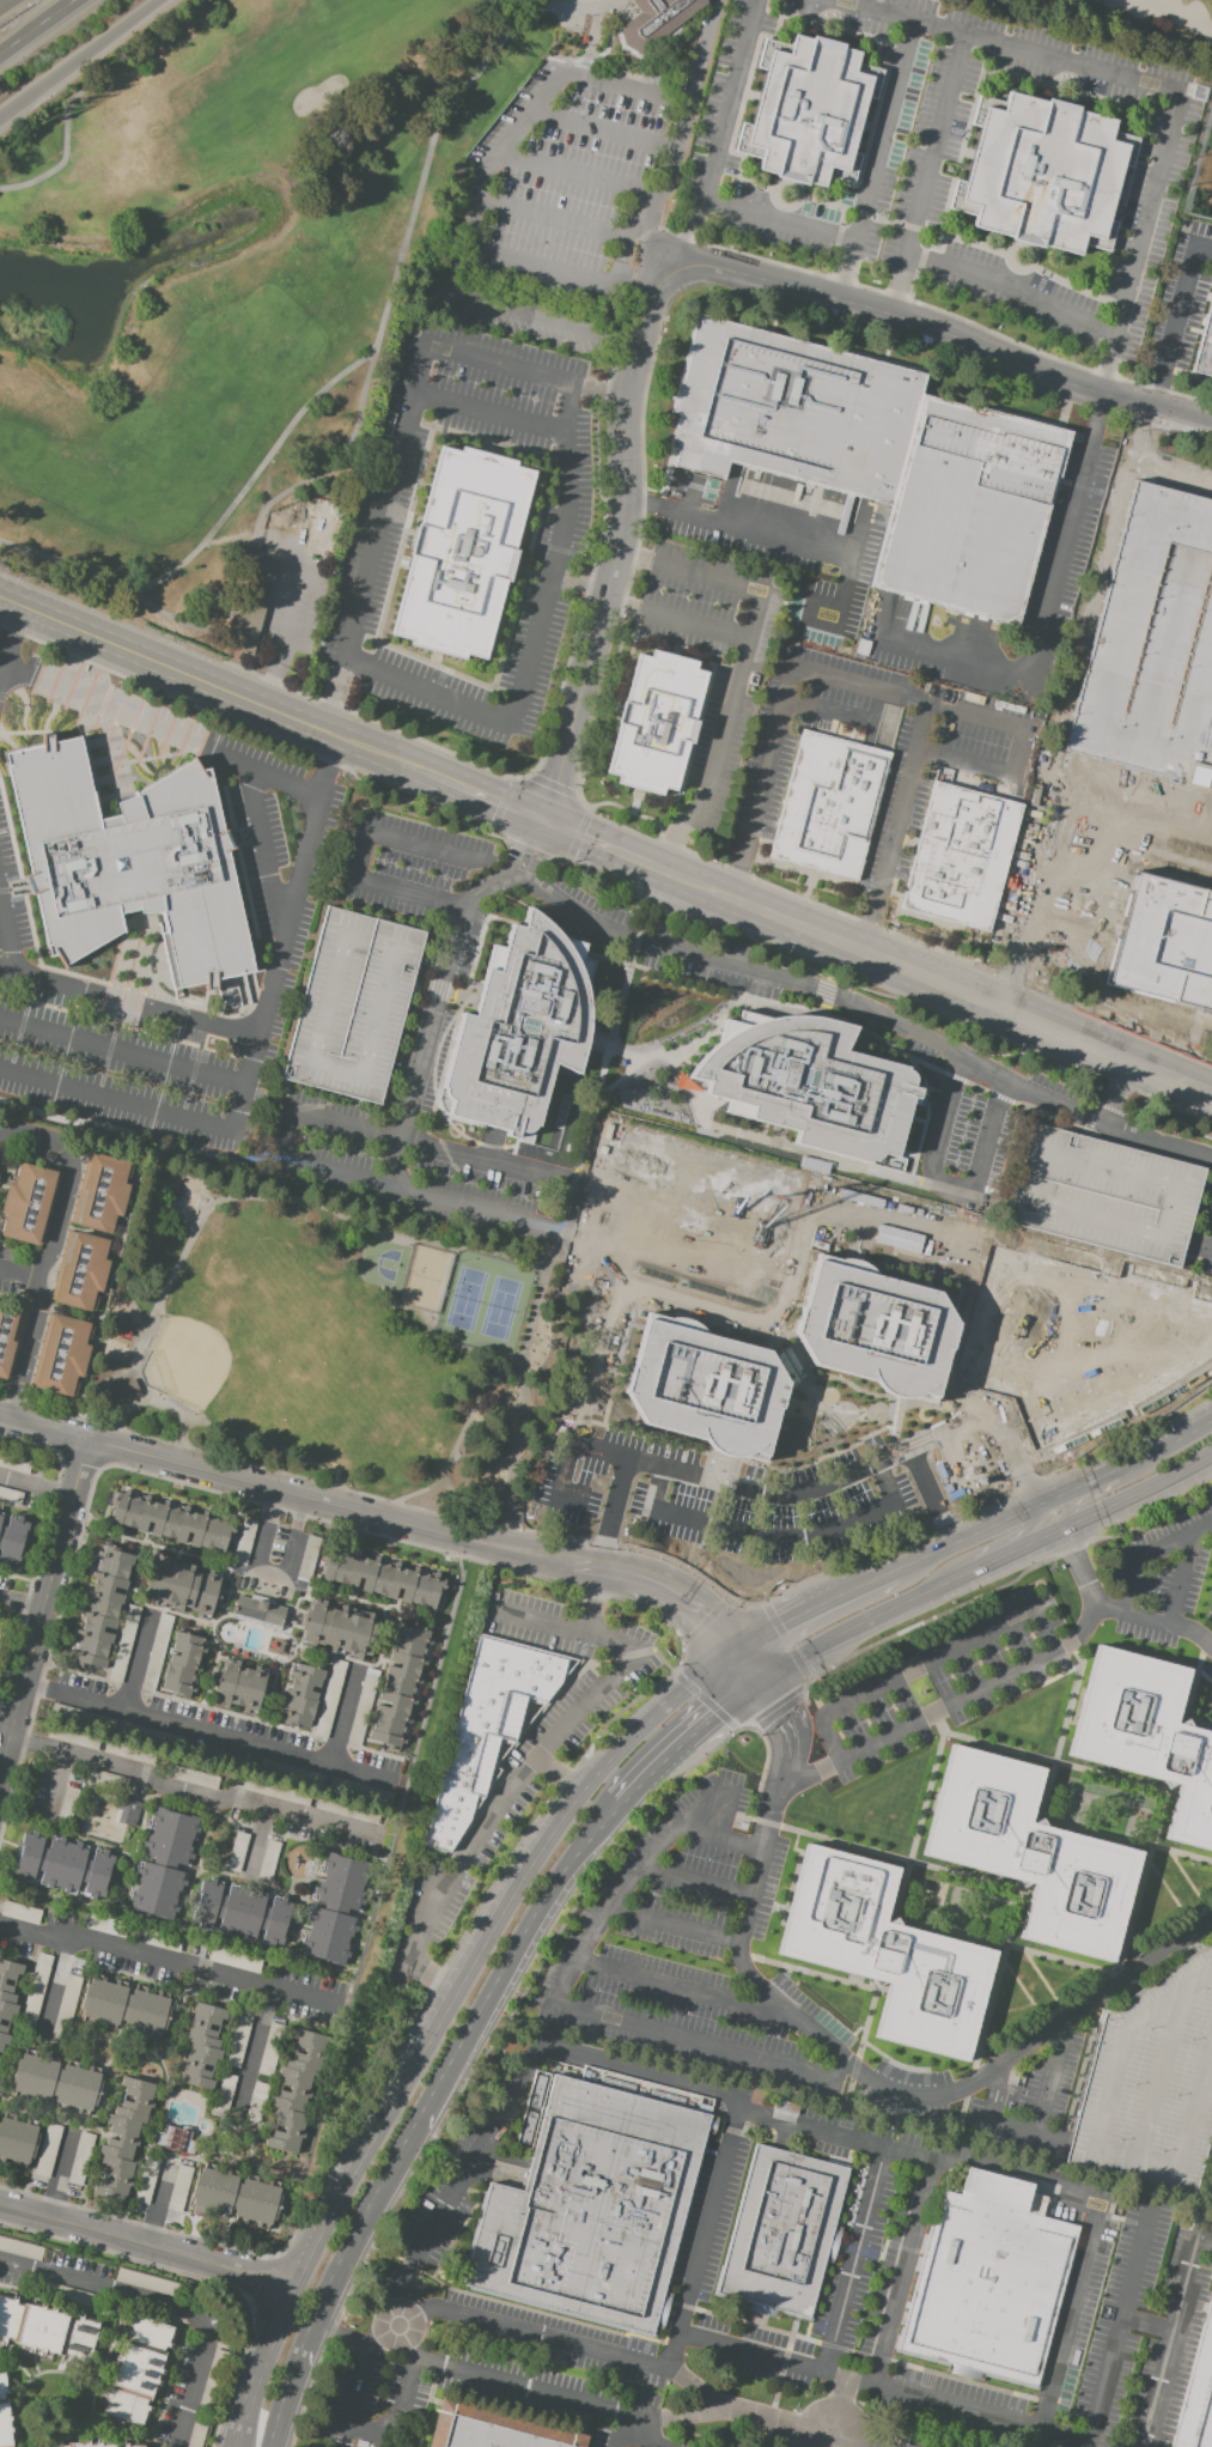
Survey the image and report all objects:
road: (4, 1)
building: (654, 20)
park: (1126, 23)
road: (36, 25)
road: (87, 53)
road: (1155, 85)
road: (84, 90)
building: (808, 110)
road: (8, 113)
road: (603, 127)
road: (720, 138)
road: (675, 141)
road: (873, 160)
road: (578, 172)
building: (1042, 174)
park: (1201, 174)
road: (927, 175)
parking lot: (567, 180)
road: (473, 198)
road: (552, 215)
road: (779, 219)
park: (291, 267)
road: (1015, 289)
road: (519, 312)
road: (1176, 318)
road: (944, 333)
road: (889, 339)
building: (1204, 345)
road: (879, 358)
road: (336, 376)
road: (598, 389)
building: (791, 411)
road: (487, 412)
building: (969, 510)
road: (780, 538)
road: (376, 539)
road: (617, 545)
building: (462, 553)
road: (554, 566)
road: (579, 582)
road: (623, 589)
building: (251, 603)
road: (1050, 609)
road: (675, 621)
road: (8, 634)
building: (1151, 643)
road: (741, 663)
road: (213, 684)
road: (867, 687)
building: (656, 722)
road: (159, 728)
road: (252, 729)
road: (421, 740)
road: (552, 784)
road: (486, 799)
road: (499, 804)
building: (826, 806)
traffic signals: (548, 824)
road: (895, 827)
road: (577, 836)
road: (1061, 836)
road: (597, 843)
road: (359, 849)
road: (263, 850)
road: (526, 850)
road: (537, 850)
building: (960, 856)
building: (129, 863)
road: (491, 884)
road: (1094, 887)
building: (1090, 888)
road: (647, 898)
road: (895, 933)
road: (6, 937)
road: (479, 939)
road: (635, 939)
road: (647, 940)
road: (838, 940)
building: (1163, 940)
road: (830, 959)
road: (830, 977)
road: (684, 978)
road: (419, 984)
road: (439, 989)
road: (823, 990)
road: (463, 995)
road: (836, 997)
road: (128, 1000)
building: (351, 1004)
parking lot: (351, 1004)
road: (791, 1004)
road: (817, 1008)
building: (518, 1028)
road: (708, 1032)
road: (597, 1038)
road: (1083, 1040)
road: (122, 1049)
road: (252, 1049)
road: (952, 1056)
road: (912, 1064)
road: (635, 1065)
road: (952, 1076)
road: (1101, 1076)
road: (1175, 1077)
building: (806, 1082)
road: (974, 1086)
road: (1138, 1092)
road: (1123, 1094)
road: (998, 1097)
road: (1043, 1098)
road: (1109, 1109)
road: (1050, 1117)
road: (1089, 1117)
road: (1091, 1117)
road: (913, 1118)
road: (1170, 1118)
road: (404, 1127)
road: (287, 1129)
road: (761, 1130)
road: (775, 1134)
road: (1088, 1134)
road: (45, 1137)
road: (1104, 1137)
road: (1161, 1141)
road: (489, 1143)
road: (816, 1153)
road: (905, 1153)
road: (1167, 1155)
road: (278, 1160)
road: (487, 1160)
road: (919, 1180)
road: (945, 1186)
building: (101, 1192)
building: (1103, 1194)
parking garage: (1103, 1194)
road: (237, 1196)
building: (701, 1201)
building: (26, 1203)
road: (554, 1246)
road: (1210, 1246)
park: (382, 1262)
building: (80, 1270)
road: (23, 1273)
park: (424, 1279)
road: (41, 1294)
park: (482, 1303)
building: (873, 1328)
building: (8, 1335)
park: (331, 1344)
building: (61, 1355)
park: (184, 1360)
road: (593, 1362)
building: (704, 1386)
building: (123, 1390)
road: (123, 1408)
road: (42, 1427)
road: (459, 1434)
road: (267, 1443)
road: (312, 1478)
road: (36, 1486)
road: (1114, 1488)
parking lot: (651, 1494)
road: (1055, 1494)
building: (7, 1495)
road: (565, 1498)
road: (916, 1500)
road: (464, 1510)
road: (622, 1513)
building: (0, 1517)
building: (171, 1522)
road: (422, 1526)
building: (245, 1532)
road: (768, 1532)
building: (13, 1541)
road: (1147, 1553)
road: (182, 1554)
building: (311, 1558)
road: (307, 1568)
road: (987, 1568)
road: (1080, 1569)
road: (269, 1572)
building: (380, 1577)
road: (861, 1579)
road: (1178, 1580)
building: (181, 1587)
road: (592, 1596)
road: (20, 1604)
building: (102, 1608)
road: (42, 1610)
building: (258, 1613)
road: (179, 1615)
road: (782, 1619)
traffic signals: (775, 1625)
road: (562, 1627)
building: (337, 1629)
building: (159, 1631)
road: (389, 1634)
building: (122, 1643)
road: (139, 1657)
road: (252, 1659)
road: (678, 1659)
road: (290, 1663)
road: (925, 1663)
road: (753, 1664)
building: (182, 1665)
road: (110, 1671)
road: (1010, 1675)
building: (148, 1676)
building: (239, 1686)
building: (400, 1686)
road: (1193, 1686)
building: (300, 1695)
building: (328, 1698)
road: (185, 1700)
road: (1071, 1700)
road: (370, 1707)
road: (343, 1712)
traffic signals: (723, 1713)
traffic signals: (787, 1713)
road: (316, 1718)
road: (715, 1718)
road: (1199, 1719)
road: (793, 1724)
road: (206, 1728)
building: (487, 1728)
road: (5, 1737)
building: (1145, 1739)
parking lot: (71, 1744)
parking lot: (373, 1761)
road: (558, 1774)
road: (1108, 1775)
road: (931, 1777)
road: (647, 1781)
road: (49, 1786)
road: (1139, 1789)
road: (191, 1790)
road: (507, 1795)
road: (1135, 1801)
building: (127, 1811)
road: (1131, 1823)
road: (720, 1838)
road: (1126, 1838)
road: (256, 1844)
building: (236, 1851)
building: (1025, 1857)
building: (267, 1859)
building: (62, 1864)
building: (163, 1864)
road: (964, 1876)
road: (695, 1882)
park: (401, 1886)
fountain: (930, 1886)
road: (901, 1892)
road: (377, 1901)
building: (335, 1909)
building: (19, 1912)
building: (242, 1912)
road: (676, 1924)
road: (1165, 1935)
road: (1003, 1944)
building: (885, 1953)
road: (173, 1965)
road: (998, 1974)
road: (432, 1978)
road: (845, 1983)
road: (53, 1986)
building: (34, 1988)
road: (686, 1990)
building: (7, 1996)
road: (1074, 1996)
building: (63, 2006)
building: (124, 2006)
road: (570, 2009)
road: (441, 2016)
building: (1115, 2023)
building: (237, 2040)
building: (201, 2046)
road: (252, 2052)
building: (263, 2063)
building: (56, 2081)
building: (634, 2087)
road: (877, 2087)
parking lot: (1152, 2087)
building: (223, 2090)
building: (296, 2091)
road: (427, 2113)
road: (1037, 2123)
road: (810, 2127)
road: (1097, 2137)
building: (123, 2138)
building: (17, 2139)
building: (48, 2142)
building: (177, 2142)
road: (467, 2173)
road: (57, 2174)
building: (145, 2180)
building: (177, 2187)
building: (236, 2196)
road: (158, 2203)
building: (590, 2205)
building: (781, 2230)
road: (146, 2247)
building: (20, 2248)
road: (849, 2270)
building: (988, 2279)
building: (150, 2284)
road: (164, 2307)
road: (1146, 2322)
building: (45, 2331)
road: (1170, 2334)
road: (358, 2345)
building: (139, 2370)
building: (1198, 2392)
road: (554, 2394)
road: (351, 2397)
building: (4, 2413)
building: (497, 2427)
road: (619, 2430)
road: (1050, 2430)
road: (648, 2434)
road: (848, 2442)
building: (80, 2445)
building: (39, 2446)

